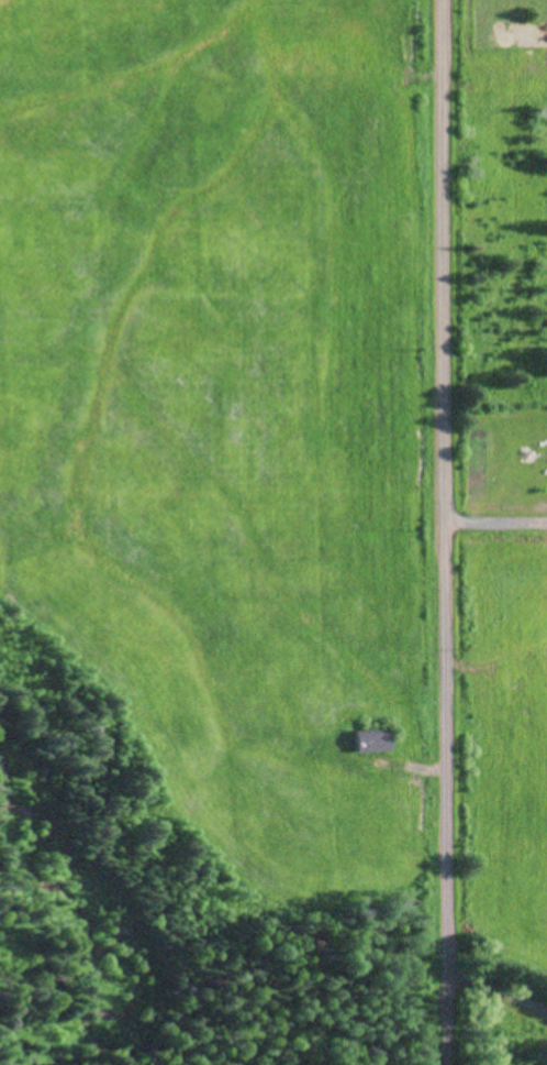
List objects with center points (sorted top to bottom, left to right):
building: (22, 15)
road: (447, 532)
building: (364, 740)

